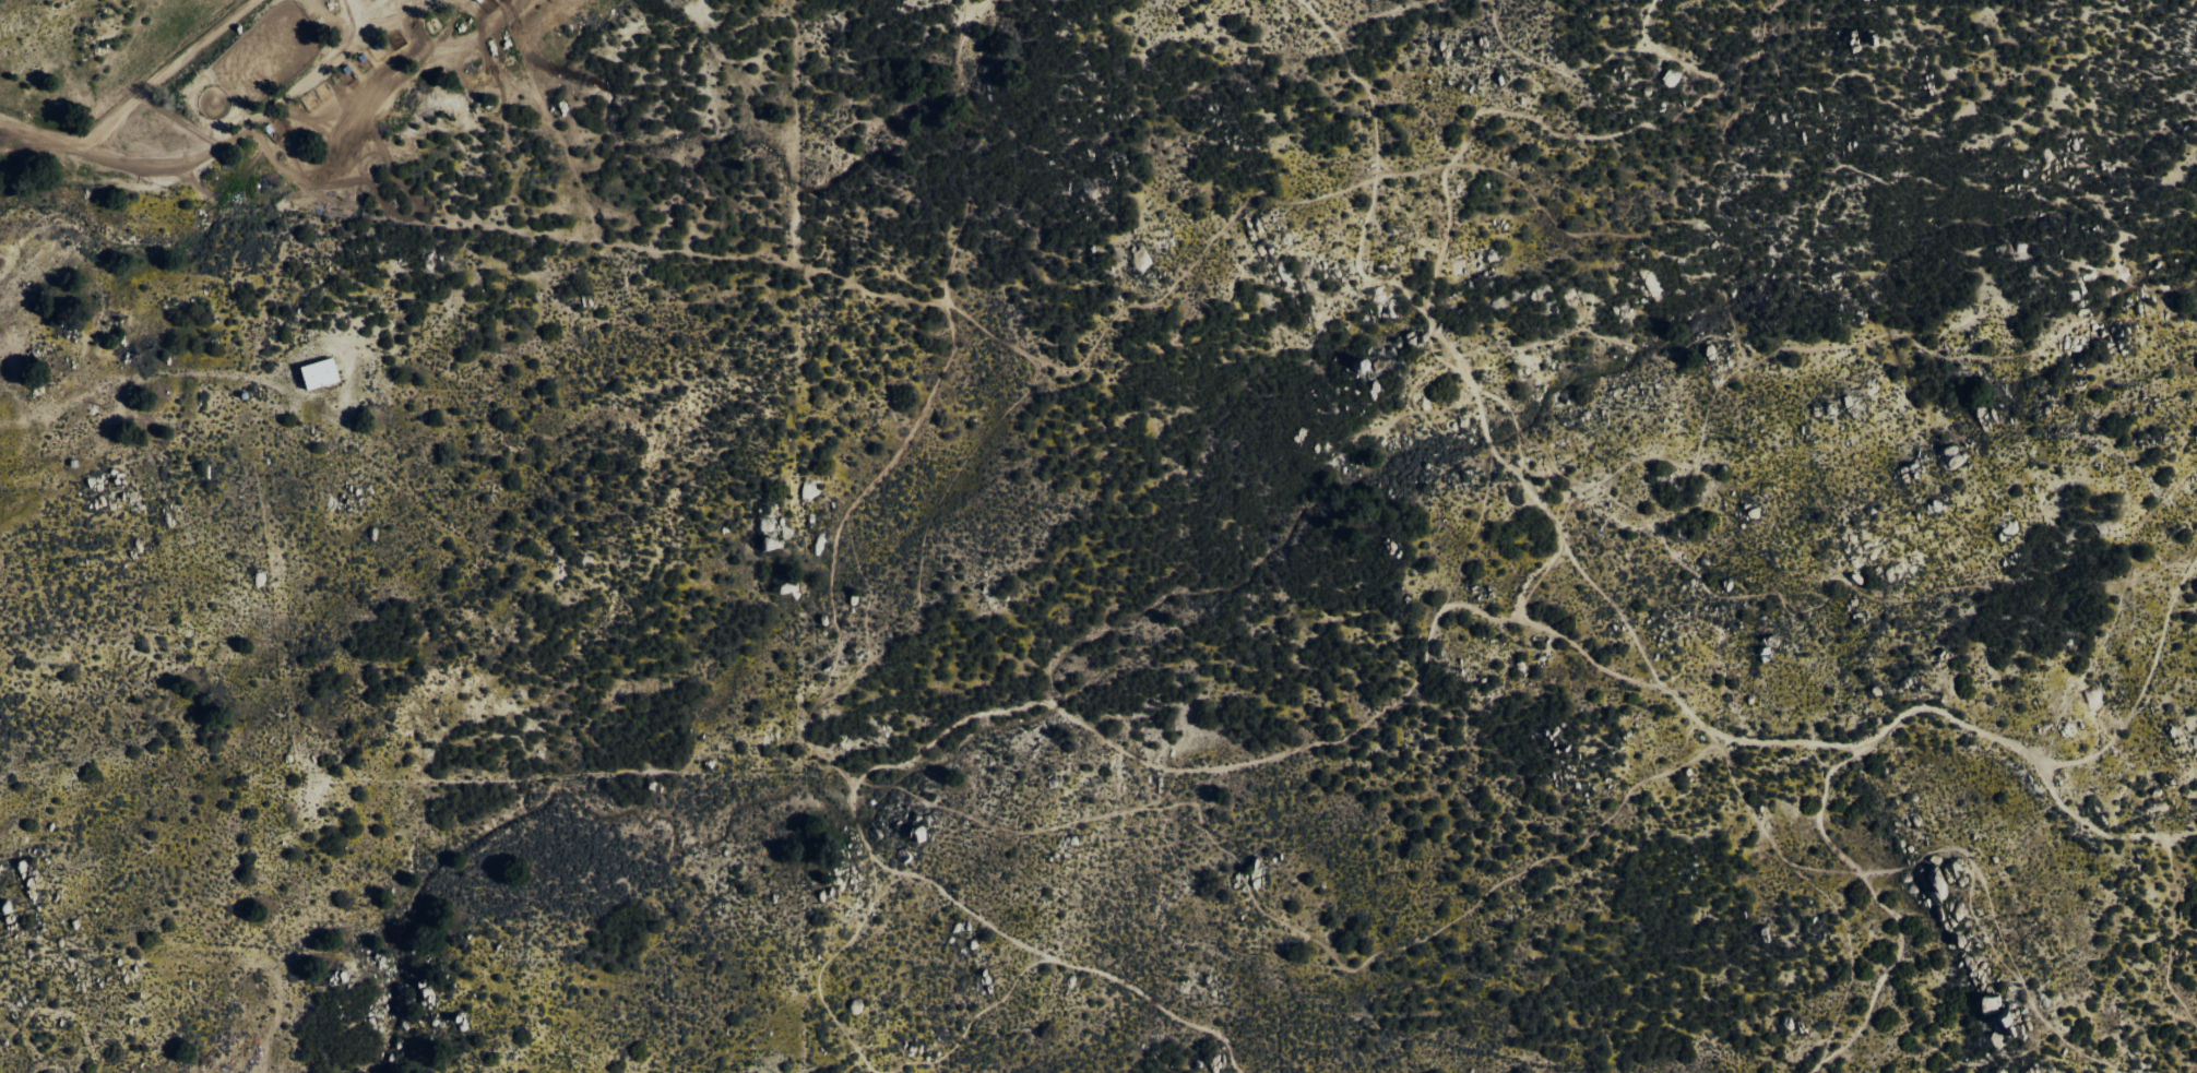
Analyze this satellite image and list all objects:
building: (474, 1)
building: (316, 372)
building: (328, 379)
road: (2070, 694)

